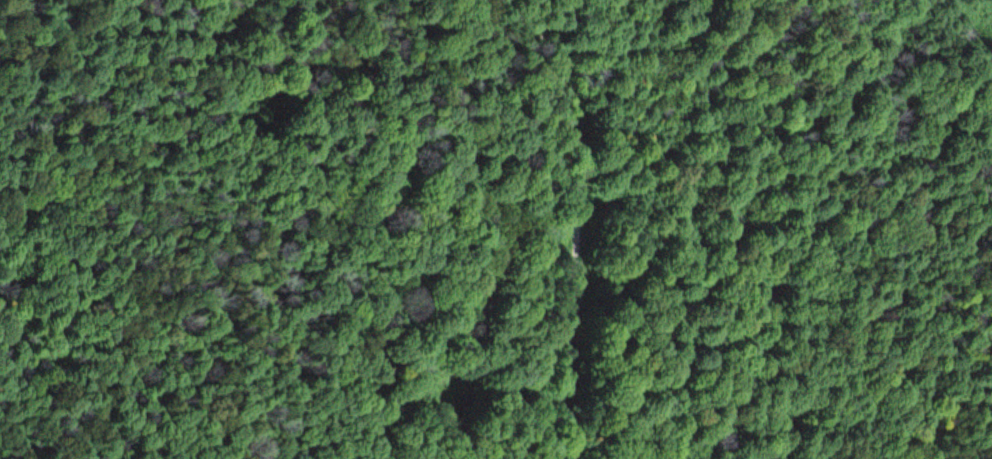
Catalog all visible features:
road: (579, 225)

